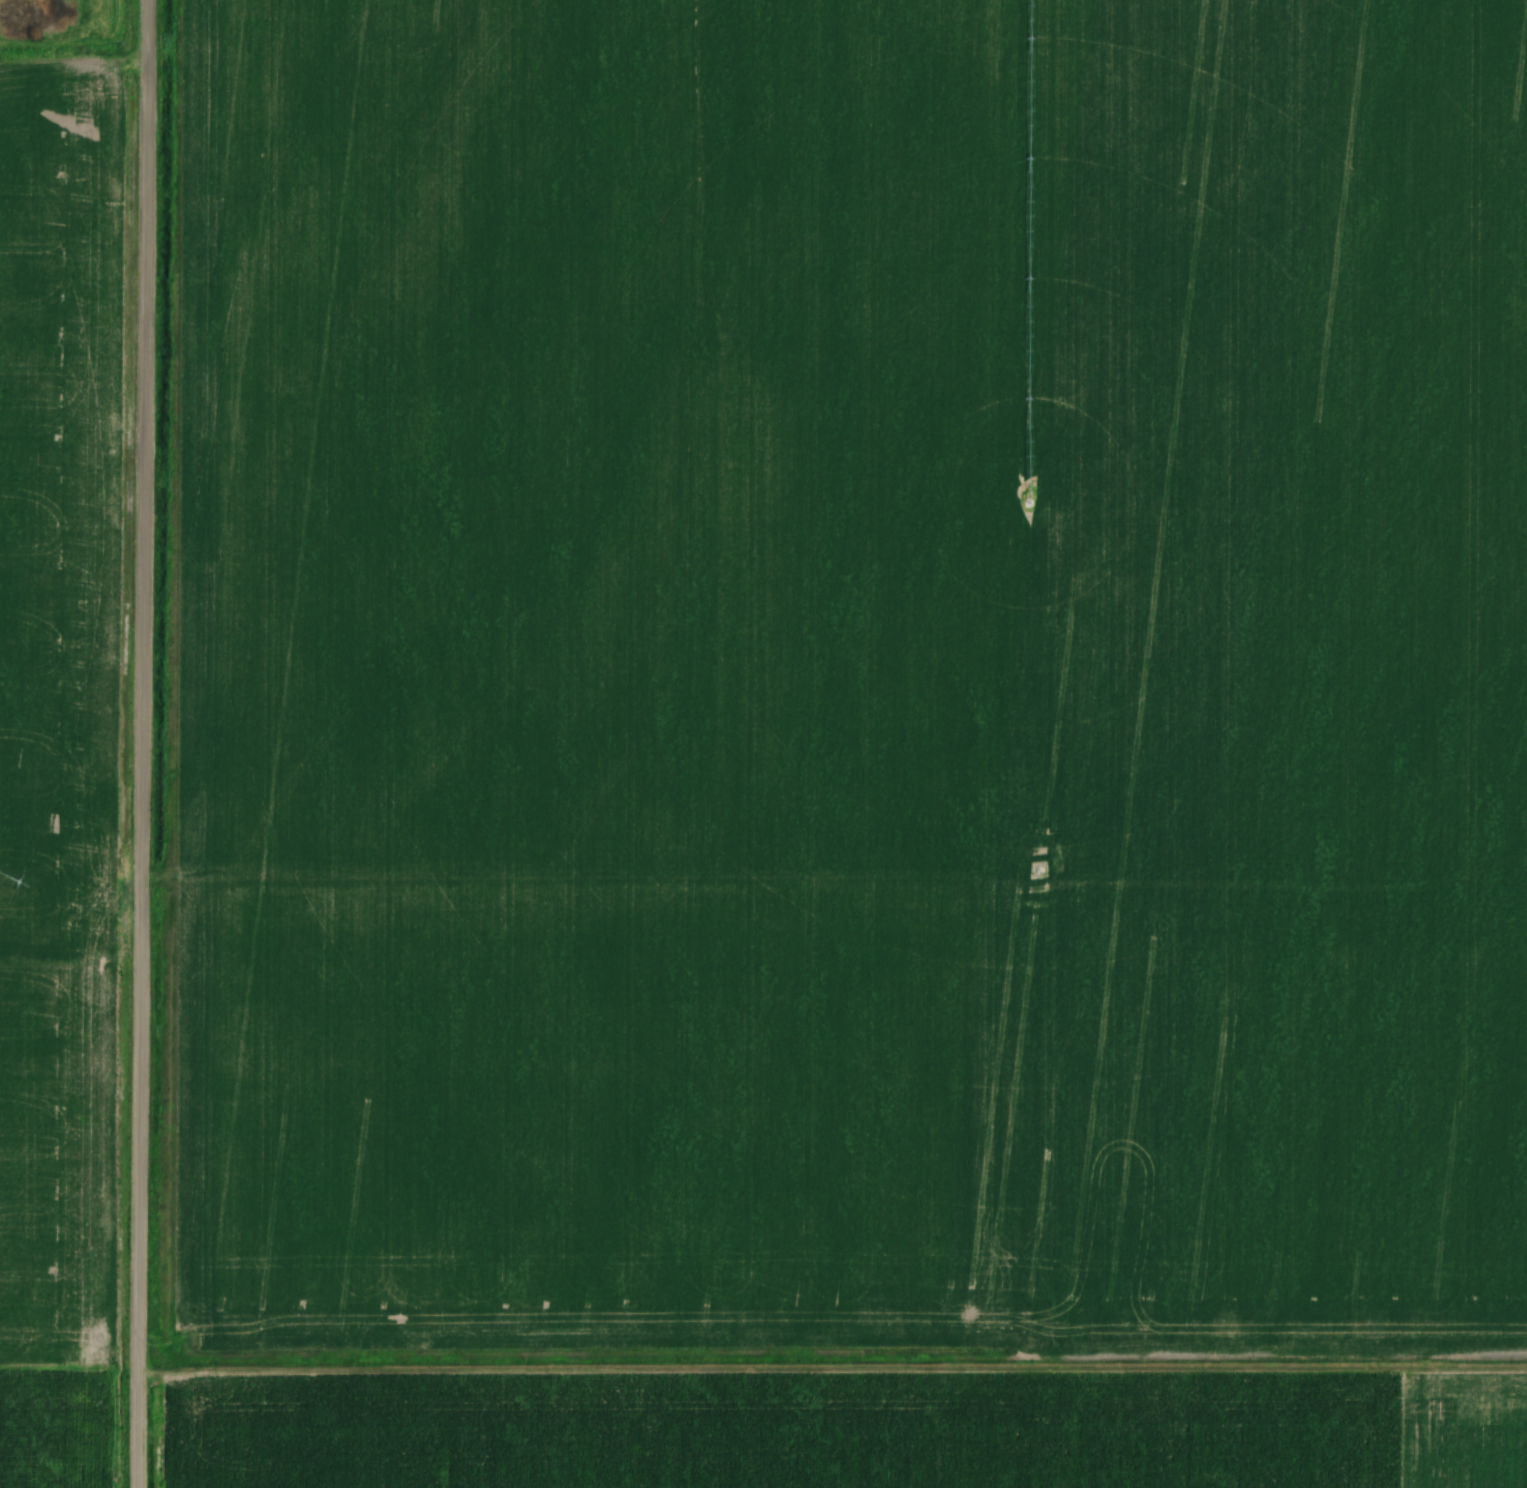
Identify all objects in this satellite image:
crop: (63, 710)
road: (147, 744)

